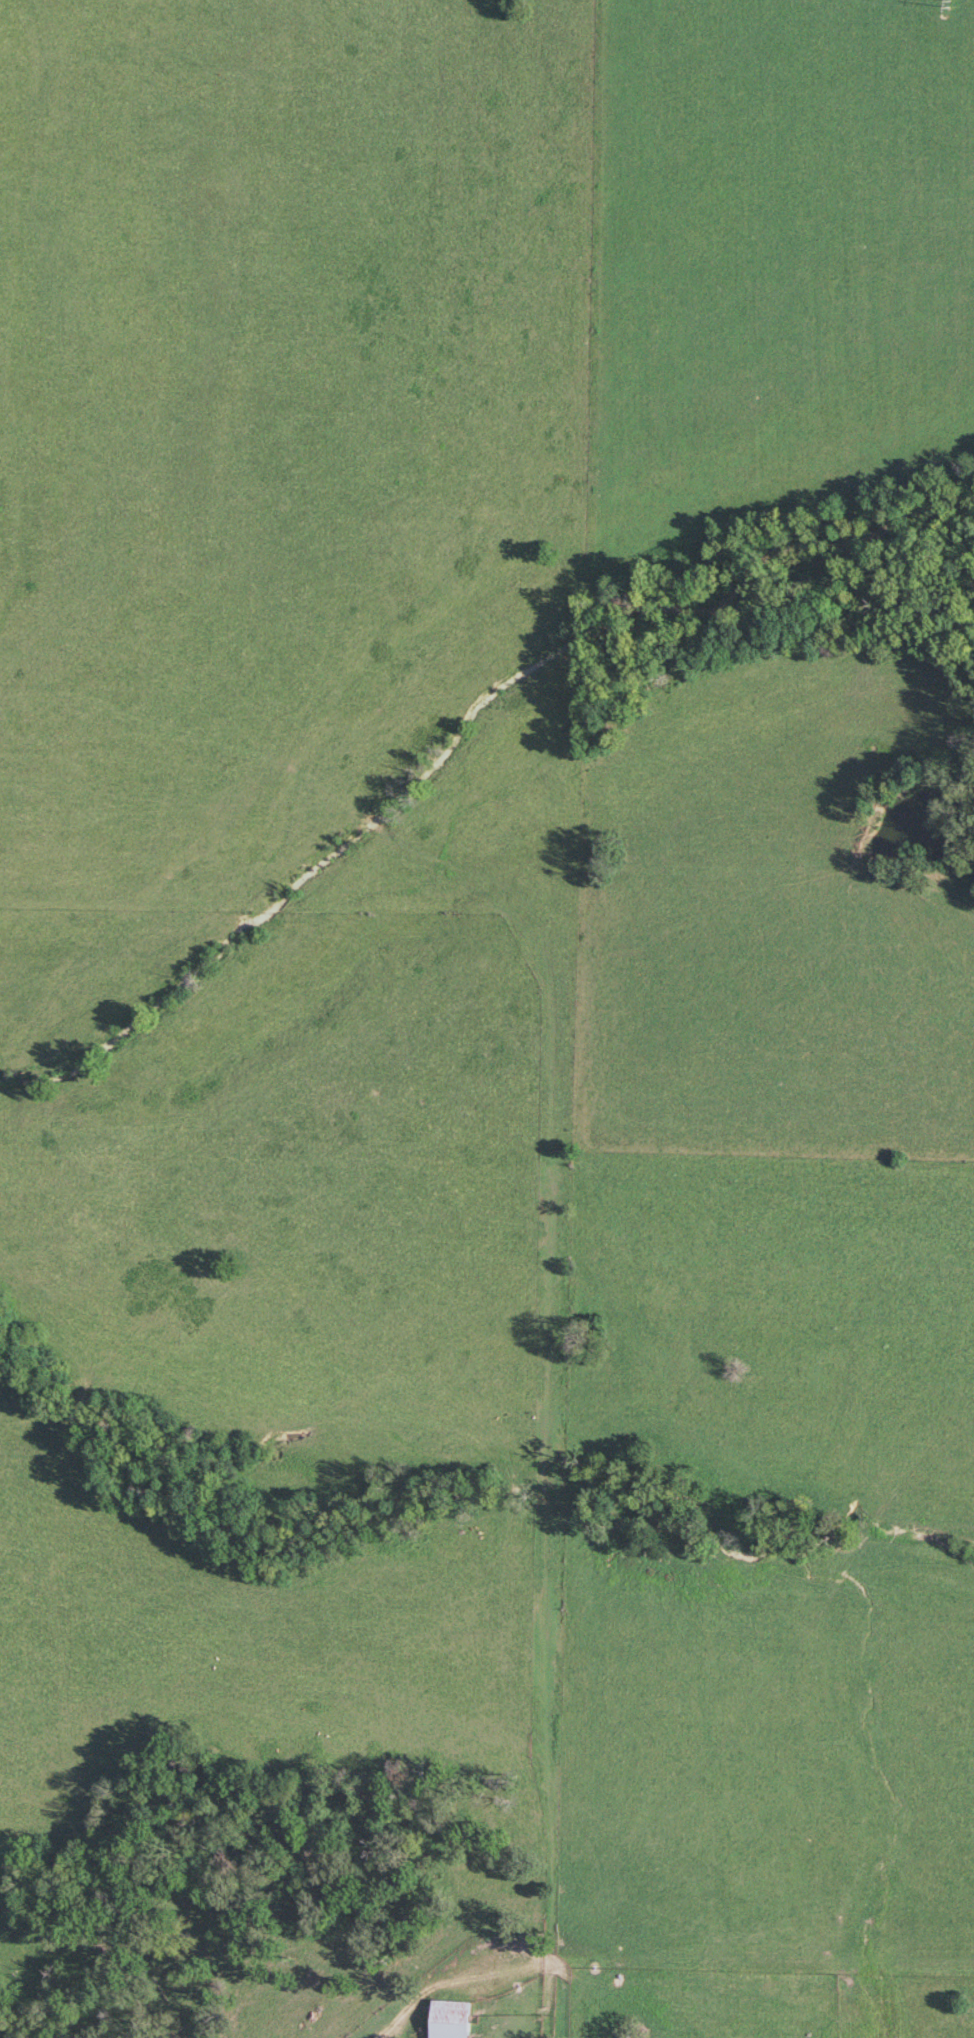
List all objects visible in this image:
building: (449, 2019)

